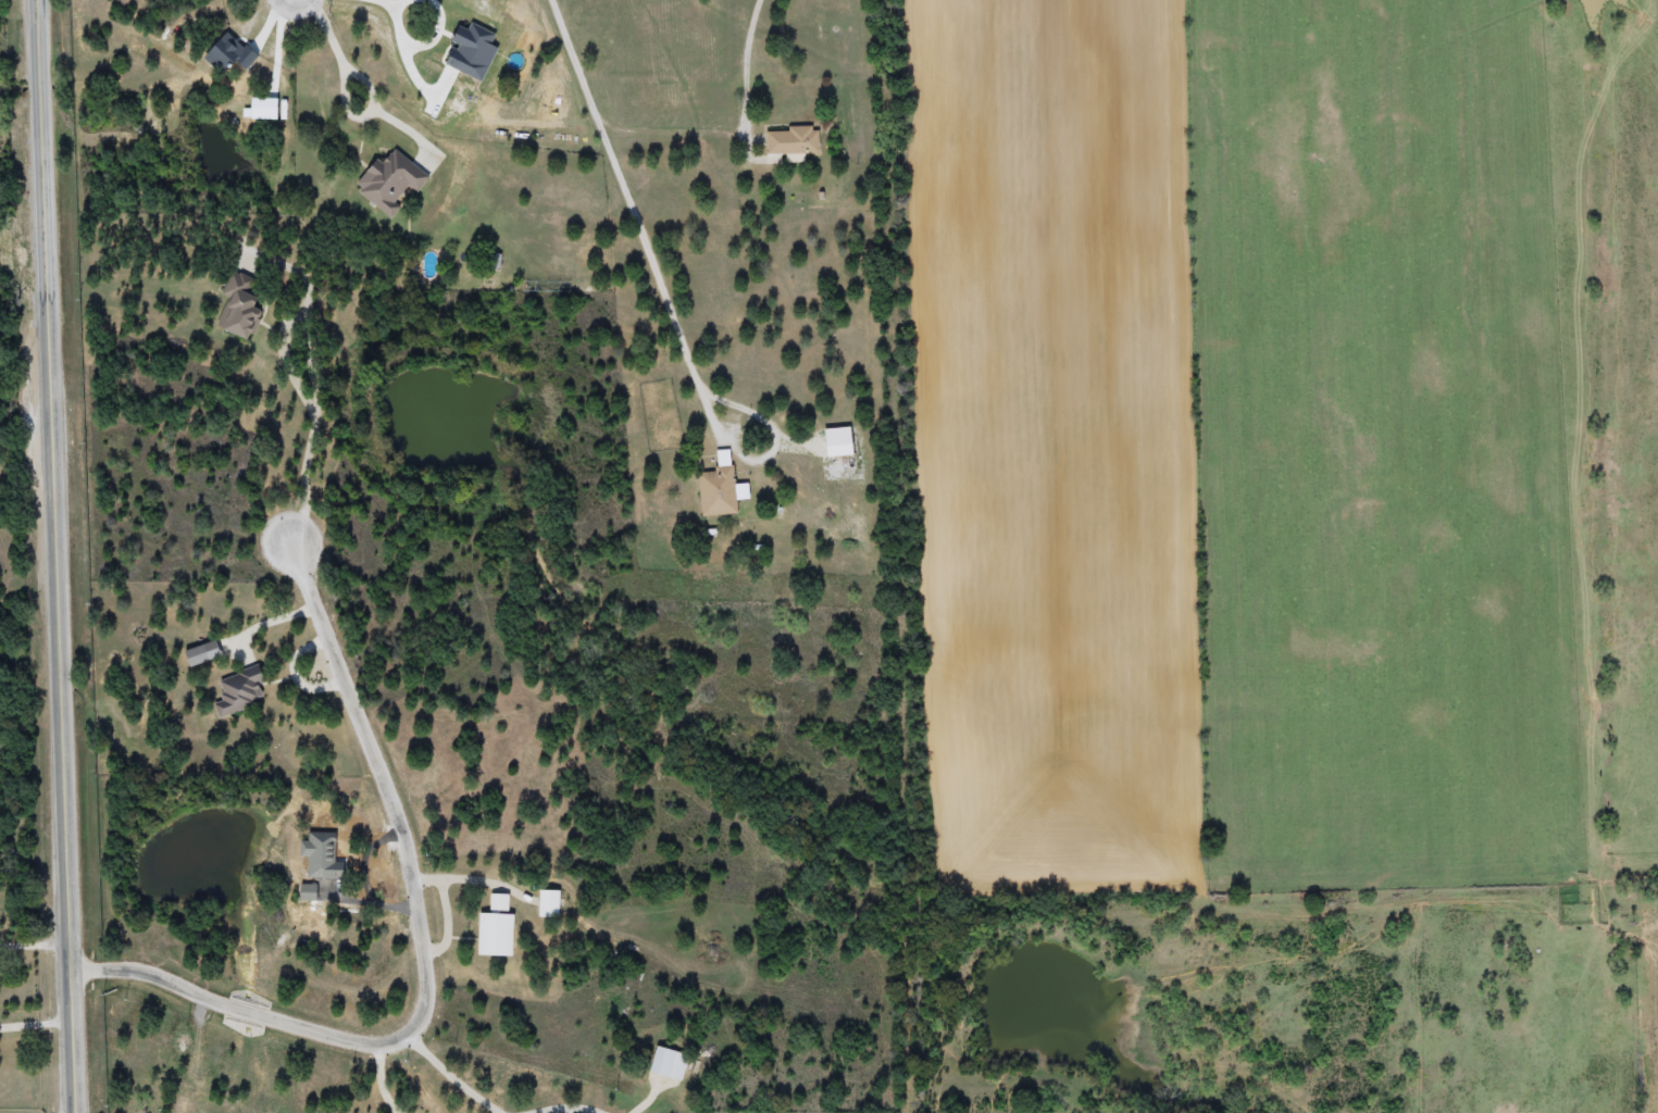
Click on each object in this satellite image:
road: (410, 59)
road: (749, 68)
building: (791, 140)
building: (386, 179)
road: (631, 197)
building: (491, 261)
building: (237, 307)
road: (315, 376)
road: (730, 445)
building: (714, 491)
road: (59, 555)
road: (272, 624)
road: (474, 880)
building: (547, 903)
road: (449, 922)
building: (494, 928)
road: (37, 945)
road: (427, 950)
road: (38, 1026)
road: (459, 1073)
road: (385, 1084)

